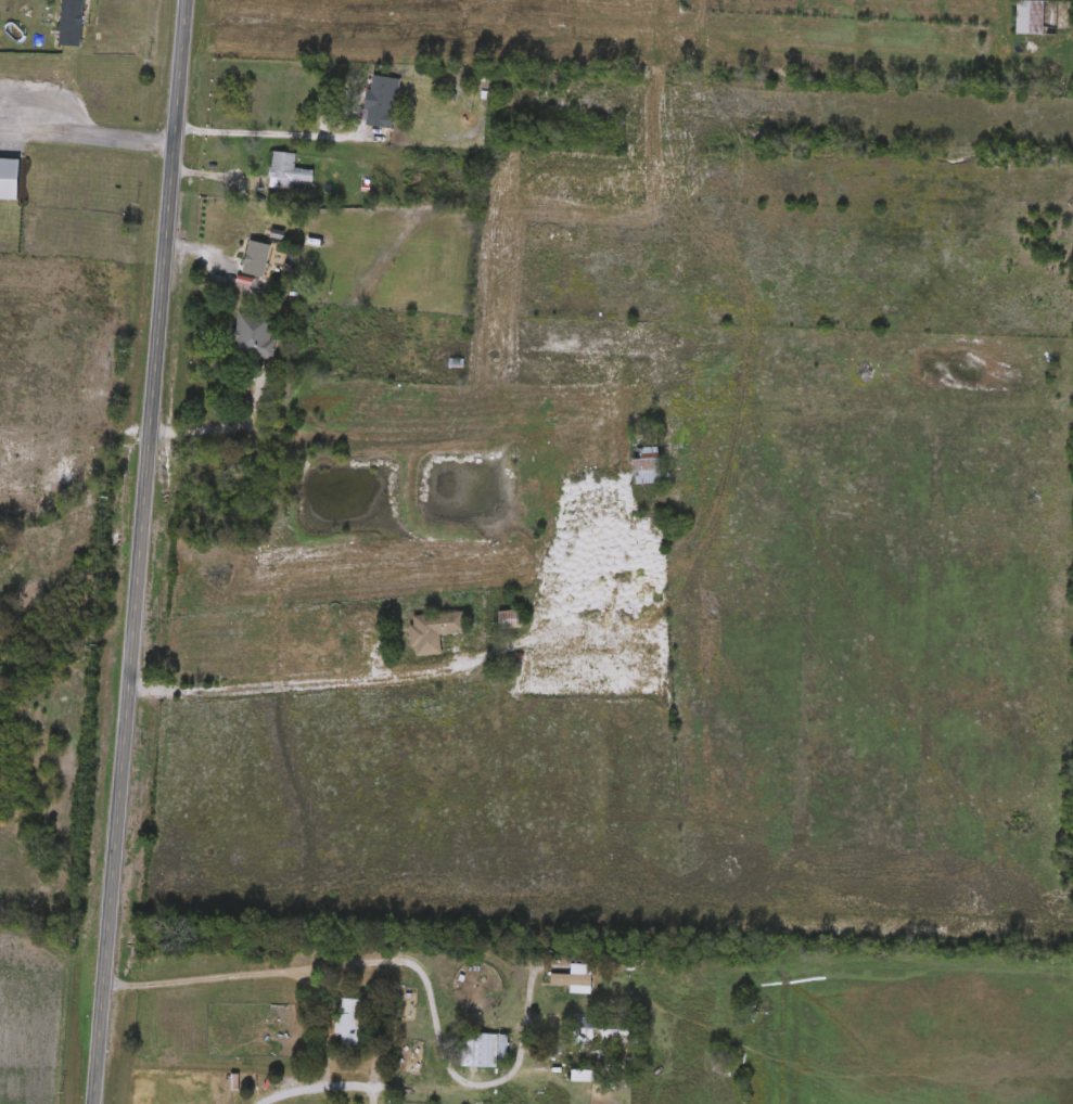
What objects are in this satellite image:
building: (1043, 17)
building: (71, 23)
road: (668, 39)
building: (382, 101)
road: (87, 129)
road: (269, 134)
building: (608, 167)
building: (286, 170)
building: (10, 179)
building: (251, 335)
road: (223, 419)
building: (639, 460)
road: (138, 551)
building: (509, 620)
building: (433, 632)
road: (395, 952)
building: (575, 978)
building: (347, 1023)
building: (596, 1045)
building: (483, 1050)
road: (316, 1088)

